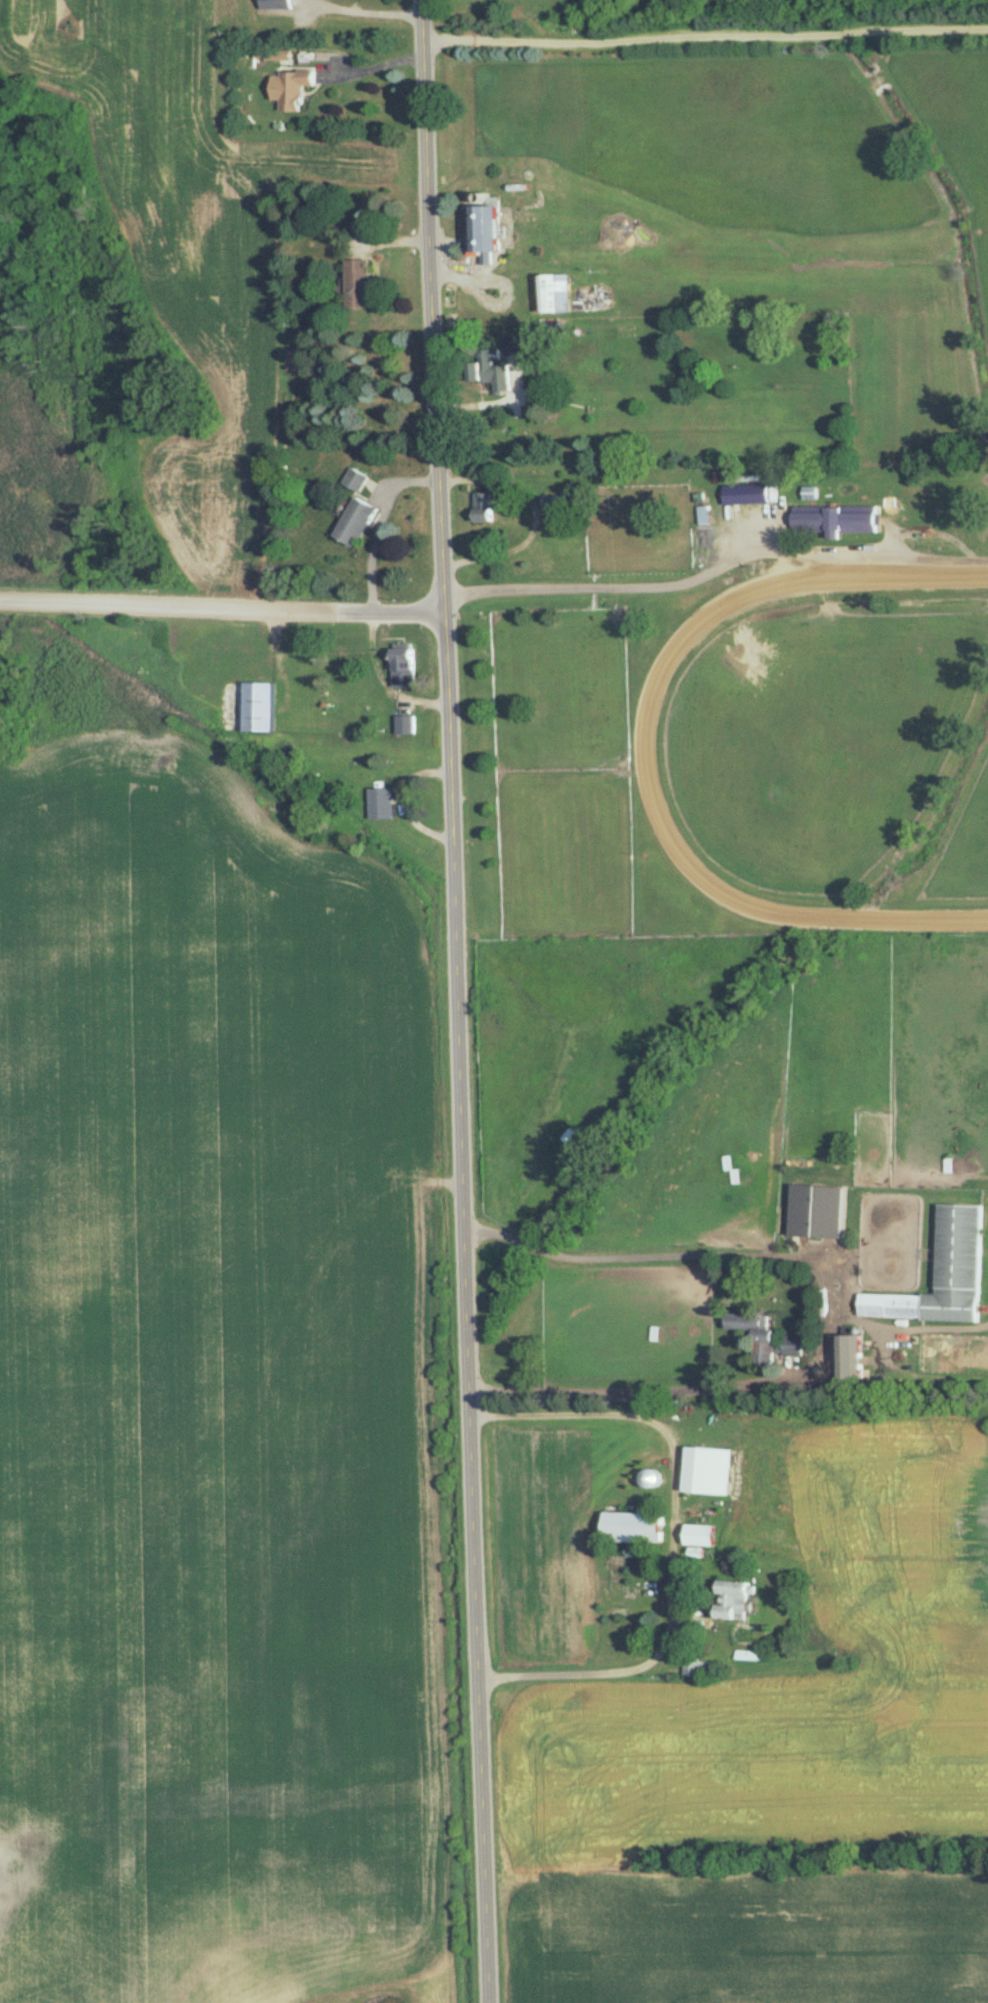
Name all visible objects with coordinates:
building: (276, 4)
road: (369, 8)
road: (708, 36)
road: (377, 65)
building: (294, 88)
building: (480, 232)
building: (357, 284)
building: (551, 294)
building: (488, 372)
building: (356, 480)
building: (745, 494)
building: (554, 505)
building: (484, 507)
building: (703, 514)
road: (537, 515)
building: (834, 520)
building: (355, 522)
road: (380, 524)
road: (963, 557)
road: (692, 578)
road: (221, 605)
building: (231, 652)
building: (403, 664)
road: (382, 676)
building: (256, 705)
track: (833, 747)
building: (381, 803)
road: (453, 1001)
building: (814, 1211)
building: (941, 1274)
road: (830, 1313)
building: (764, 1337)
building: (846, 1356)
building: (706, 1471)
building: (648, 1478)
building: (629, 1528)
building: (697, 1535)
road: (676, 1539)
building: (731, 1601)
building: (693, 1667)

